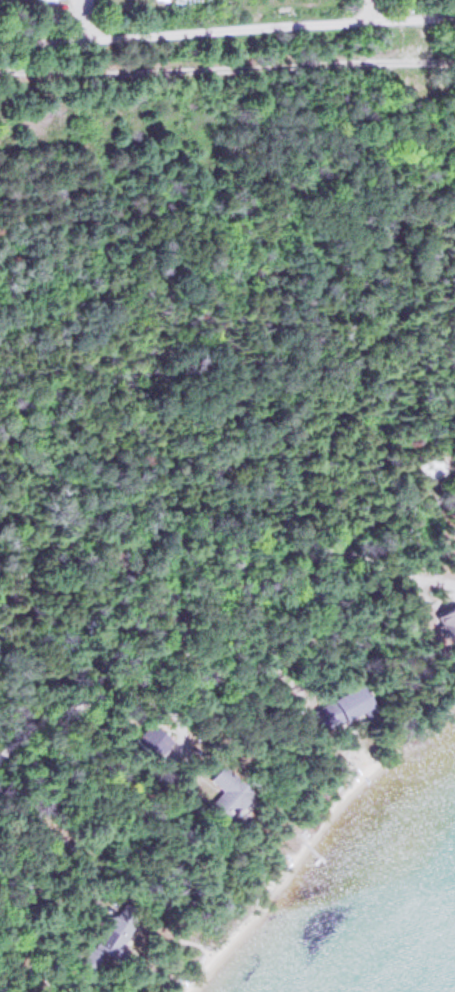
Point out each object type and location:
road: (372, 10)
road: (227, 28)
road: (227, 68)
building: (454, 503)
road: (284, 568)
building: (450, 620)
road: (152, 659)
building: (353, 701)
building: (325, 714)
building: (229, 791)
building: (113, 931)

